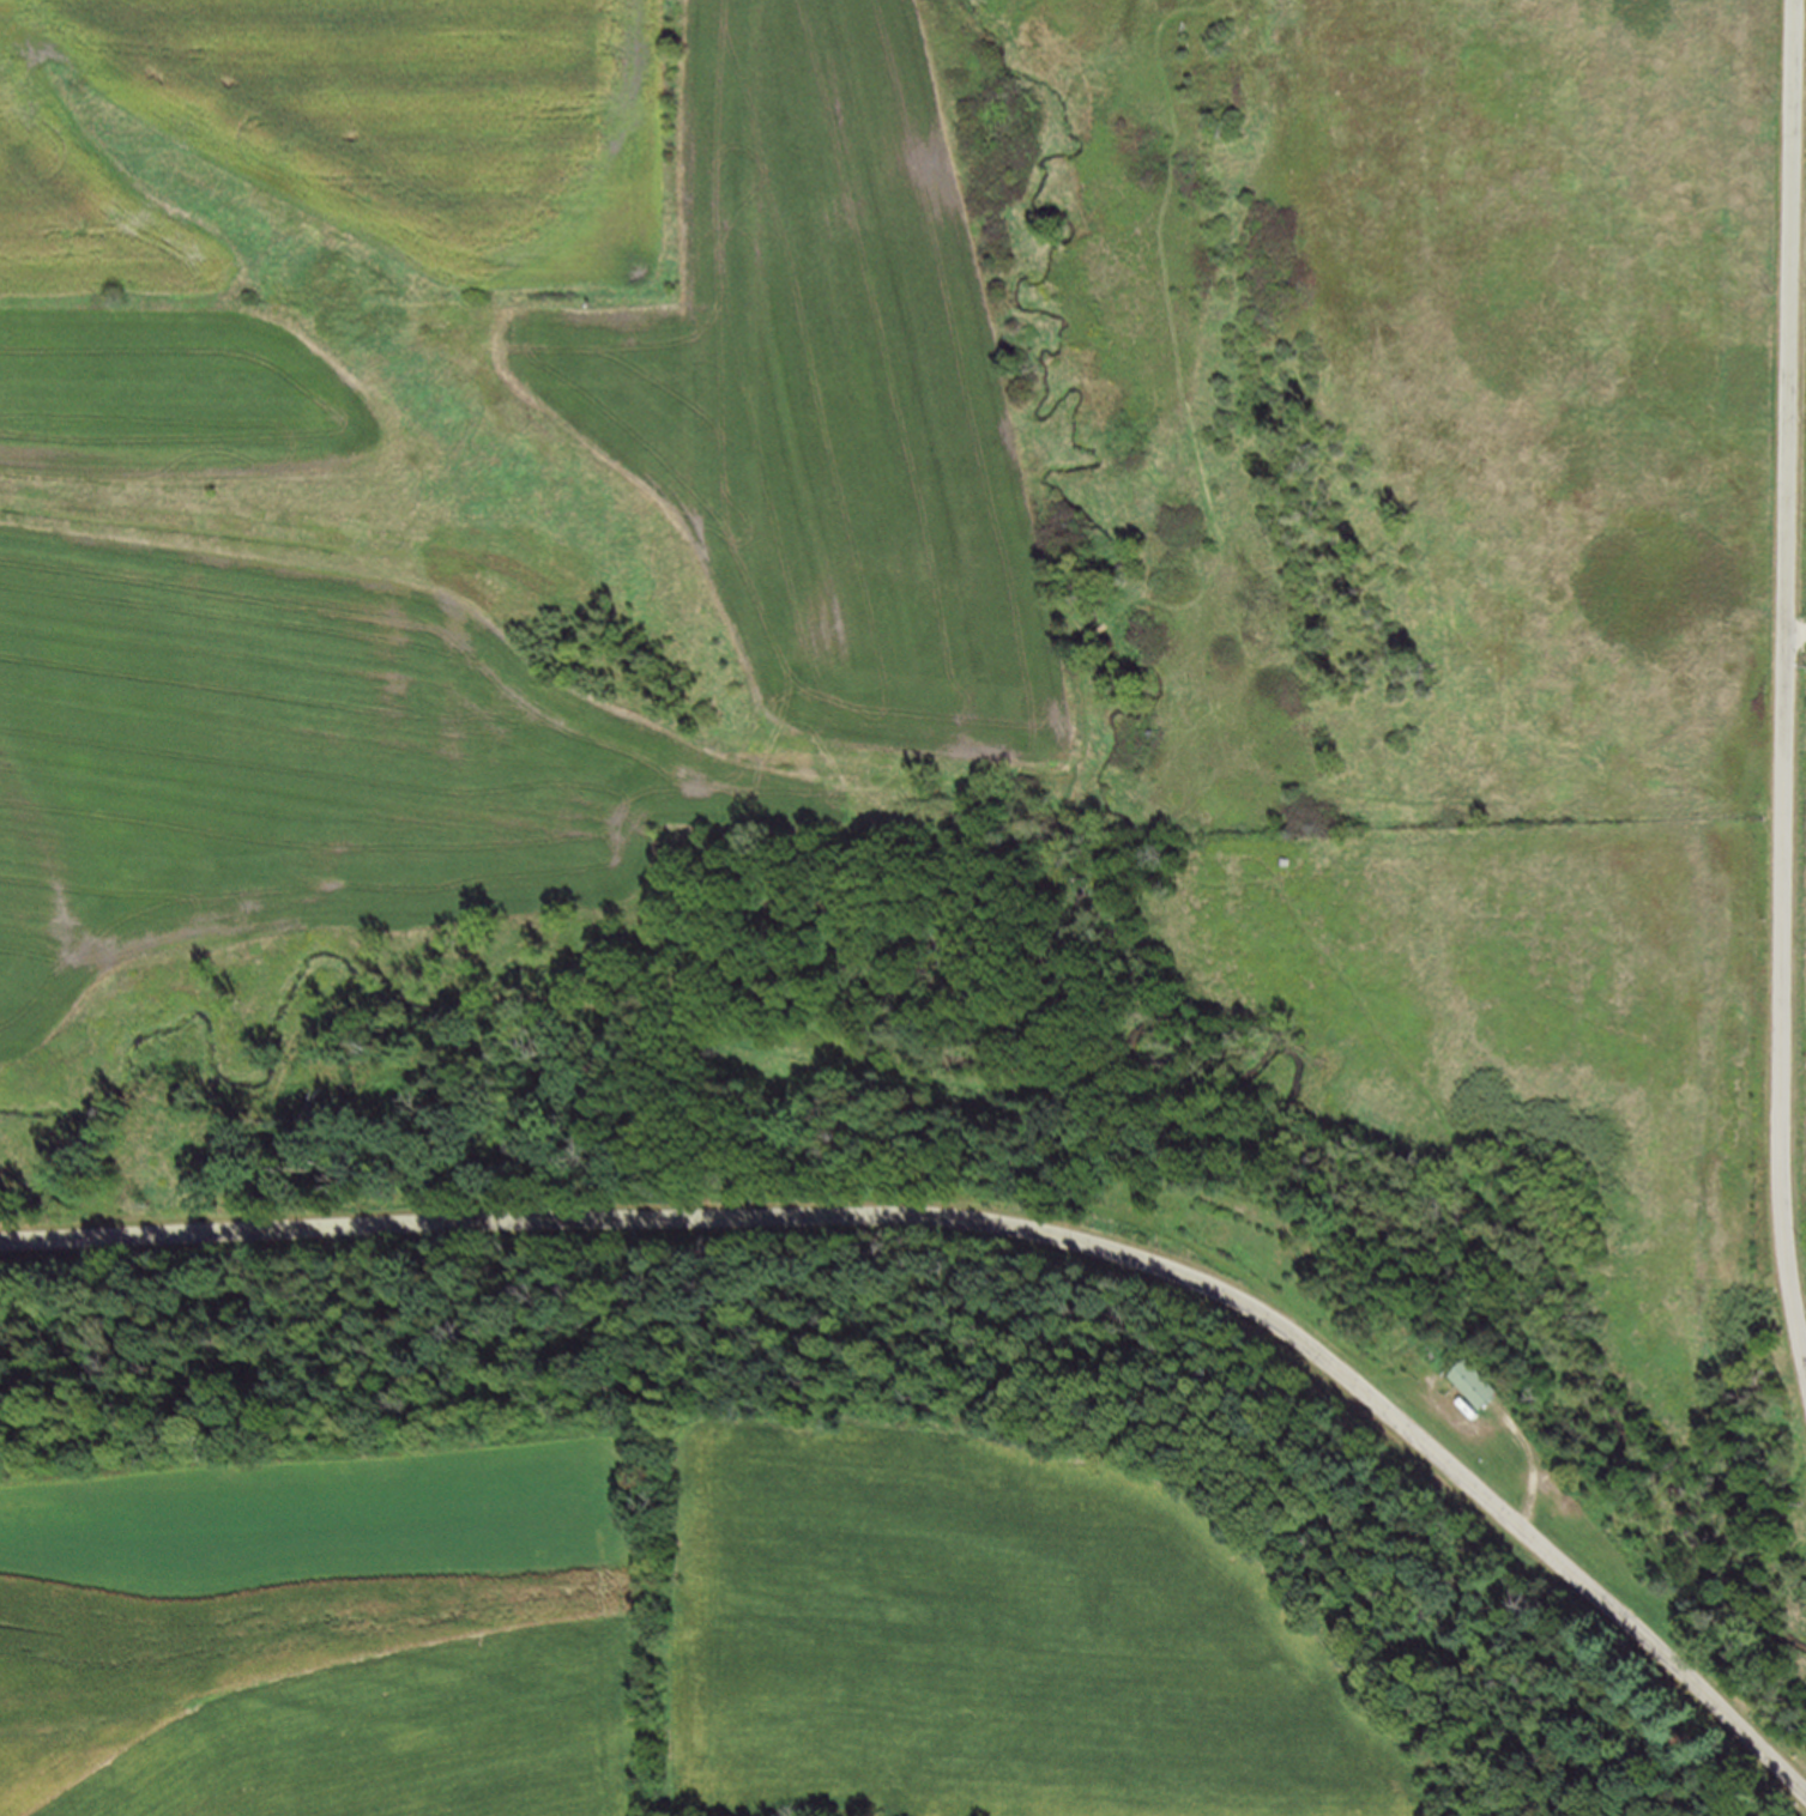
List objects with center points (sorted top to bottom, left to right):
road: (1794, 634)
road: (1783, 686)
road: (823, 909)
river: (1112, 930)
river: (229, 1023)
building: (1033, 1063)
road: (1001, 1225)
building: (1317, 1248)
building: (1472, 1385)
road: (1529, 1465)

